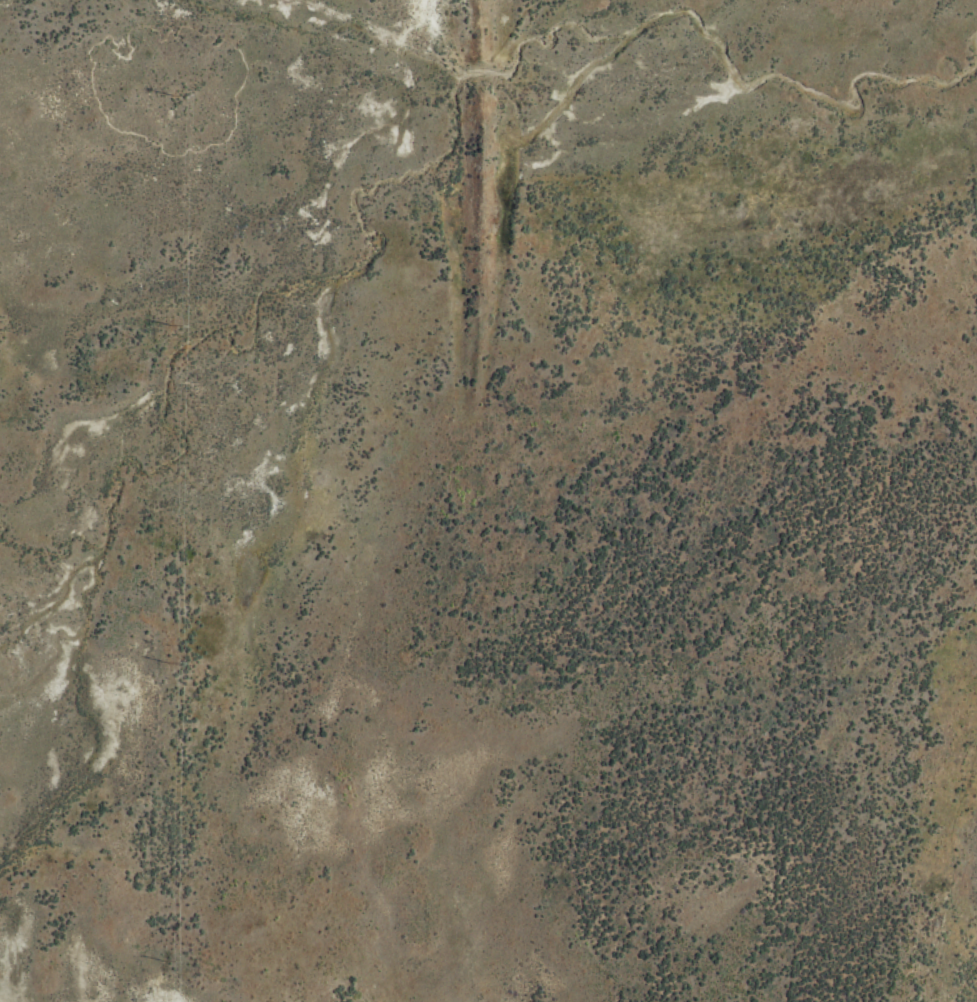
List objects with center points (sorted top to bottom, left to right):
crop: (488, 501)

